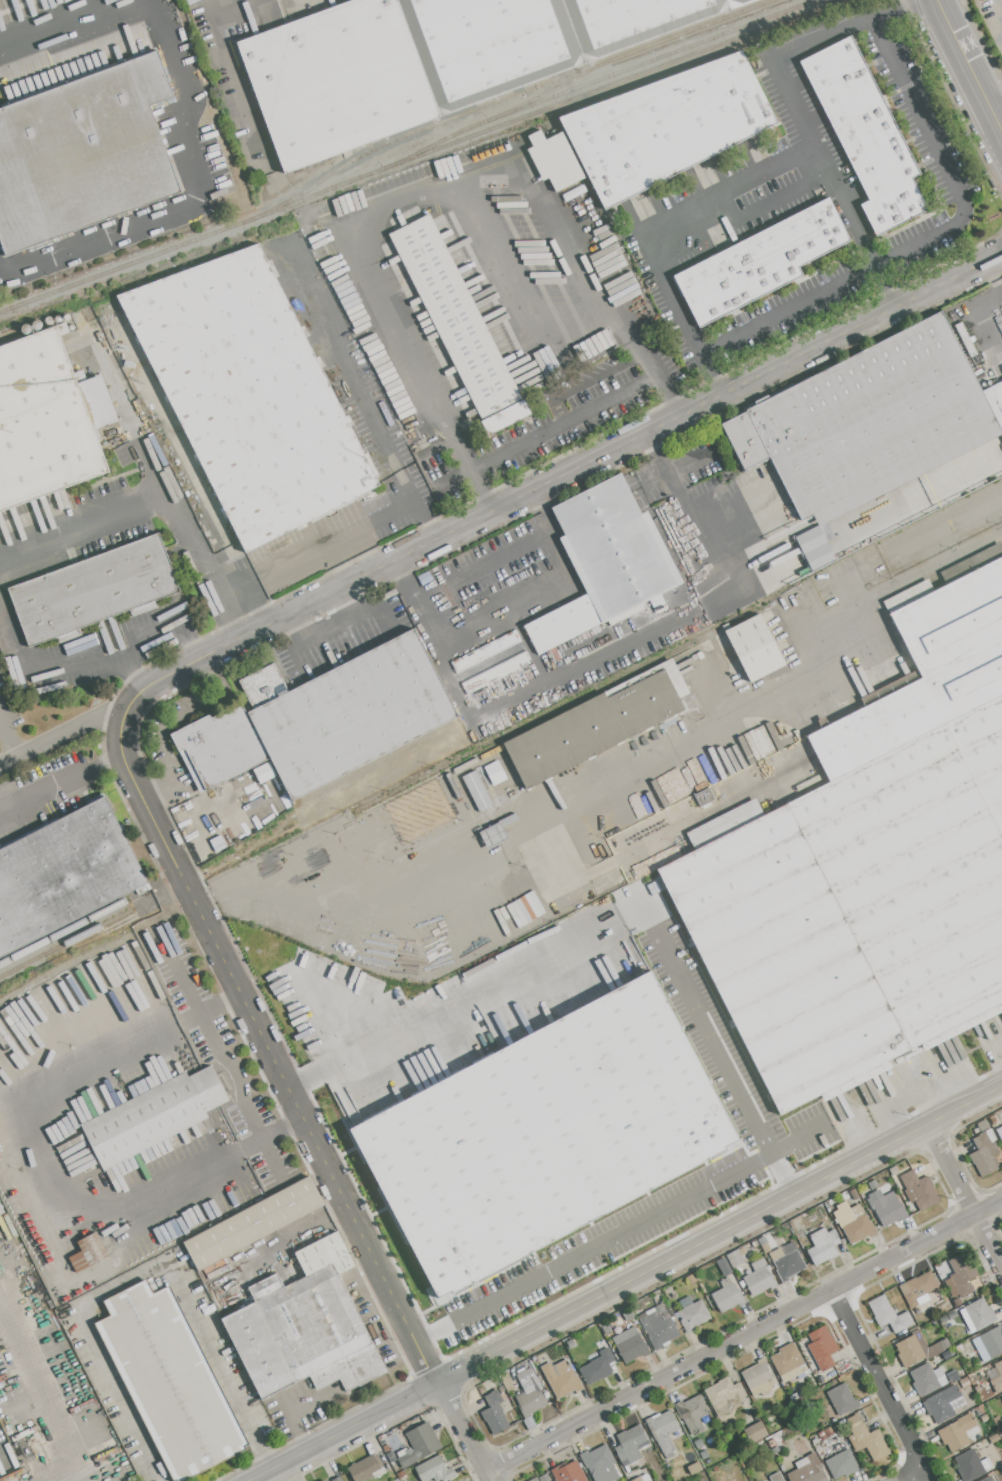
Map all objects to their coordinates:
road: (940, 2)
road: (57, 20)
road: (840, 28)
road: (224, 58)
railway: (654, 58)
building: (428, 60)
road: (968, 69)
railway: (582, 73)
road: (993, 97)
building: (666, 126)
road: (1000, 129)
building: (865, 135)
railway: (402, 138)
building: (83, 153)
railway: (422, 155)
building: (555, 160)
road: (836, 186)
road: (197, 195)
road: (393, 201)
road: (765, 204)
road: (656, 218)
road: (929, 235)
building: (759, 263)
road: (521, 293)
road: (986, 306)
building: (458, 324)
road: (614, 367)
road: (716, 382)
building: (246, 395)
road: (671, 401)
building: (46, 420)
building: (870, 421)
road: (566, 422)
road: (650, 440)
road: (673, 468)
road: (556, 476)
road: (485, 490)
road: (733, 510)
road: (691, 517)
road: (548, 536)
road: (311, 551)
building: (606, 562)
road: (489, 566)
building: (94, 593)
road: (381, 612)
road: (339, 620)
road: (460, 633)
road: (800, 636)
road: (288, 648)
building: (754, 648)
building: (490, 662)
building: (928, 665)
road: (553, 668)
road: (100, 670)
road: (737, 700)
building: (320, 719)
building: (597, 724)
road: (50, 741)
road: (9, 761)
building: (263, 772)
building: (495, 773)
road: (61, 780)
building: (477, 792)
building: (704, 797)
building: (493, 836)
building: (64, 873)
road: (319, 884)
building: (626, 896)
building: (855, 907)
railway: (63, 931)
road: (606, 932)
railway: (65, 946)
road: (188, 994)
road: (269, 1051)
building: (874, 1088)
road: (995, 1088)
road: (238, 1098)
road: (957, 1107)
building: (153, 1116)
building: (993, 1119)
building: (982, 1125)
road: (280, 1128)
building: (999, 1132)
road: (931, 1133)
building: (543, 1135)
road: (794, 1140)
building: (985, 1153)
road: (40, 1167)
road: (949, 1170)
building: (892, 1171)
building: (852, 1190)
building: (918, 1190)
building: (890, 1210)
building: (1, 1211)
building: (853, 1222)
building: (253, 1224)
road: (982, 1233)
building: (762, 1241)
building: (754, 1244)
road: (591, 1245)
building: (822, 1246)
road: (680, 1252)
building: (88, 1253)
building: (733, 1259)
building: (787, 1263)
building: (962, 1274)
road: (136, 1276)
building: (690, 1278)
building: (758, 1278)
building: (917, 1288)
building: (727, 1296)
building: (628, 1314)
building: (692, 1314)
building: (979, 1314)
building: (889, 1315)
building: (658, 1326)
building: (305, 1327)
building: (605, 1328)
road: (743, 1336)
building: (992, 1341)
building: (570, 1343)
building: (630, 1345)
building: (821, 1347)
building: (918, 1349)
building: (786, 1359)
building: (812, 1362)
building: (596, 1366)
building: (953, 1376)
building: (561, 1378)
building: (758, 1378)
building: (997, 1378)
building: (927, 1379)
building: (170, 1381)
building: (506, 1382)
building: (964, 1382)
road: (880, 1385)
building: (977, 1388)
building: (529, 1393)
building: (1001, 1395)
building: (724, 1396)
building: (842, 1400)
building: (942, 1403)
building: (979, 1409)
road: (288, 1410)
building: (495, 1412)
building: (692, 1412)
building: (983, 1417)
building: (997, 1422)
building: (529, 1423)
road: (340, 1431)
road: (462, 1431)
building: (663, 1431)
building: (755, 1432)
building: (828, 1432)
building: (957, 1432)
building: (822, 1436)
building: (814, 1438)
building: (866, 1439)
road: (301, 1443)
building: (629, 1443)
building: (697, 1443)
building: (772, 1443)
building: (418, 1445)
building: (775, 1450)
building: (703, 1454)
building: (596, 1459)
building: (394, 1463)
building: (842, 1464)
building: (971, 1465)
building: (694, 1468)
building: (366, 1469)
road: (293, 1470)
building: (434, 1470)
building: (808, 1470)
building: (568, 1472)
road: (910, 1474)
building: (401, 1475)
building: (601, 1476)
building: (543, 1478)
building: (642, 1478)
building: (775, 1478)
building: (336, 1479)
building: (396, 1479)
building: (987, 1479)
building: (534, 1480)
building: (661, 1480)

